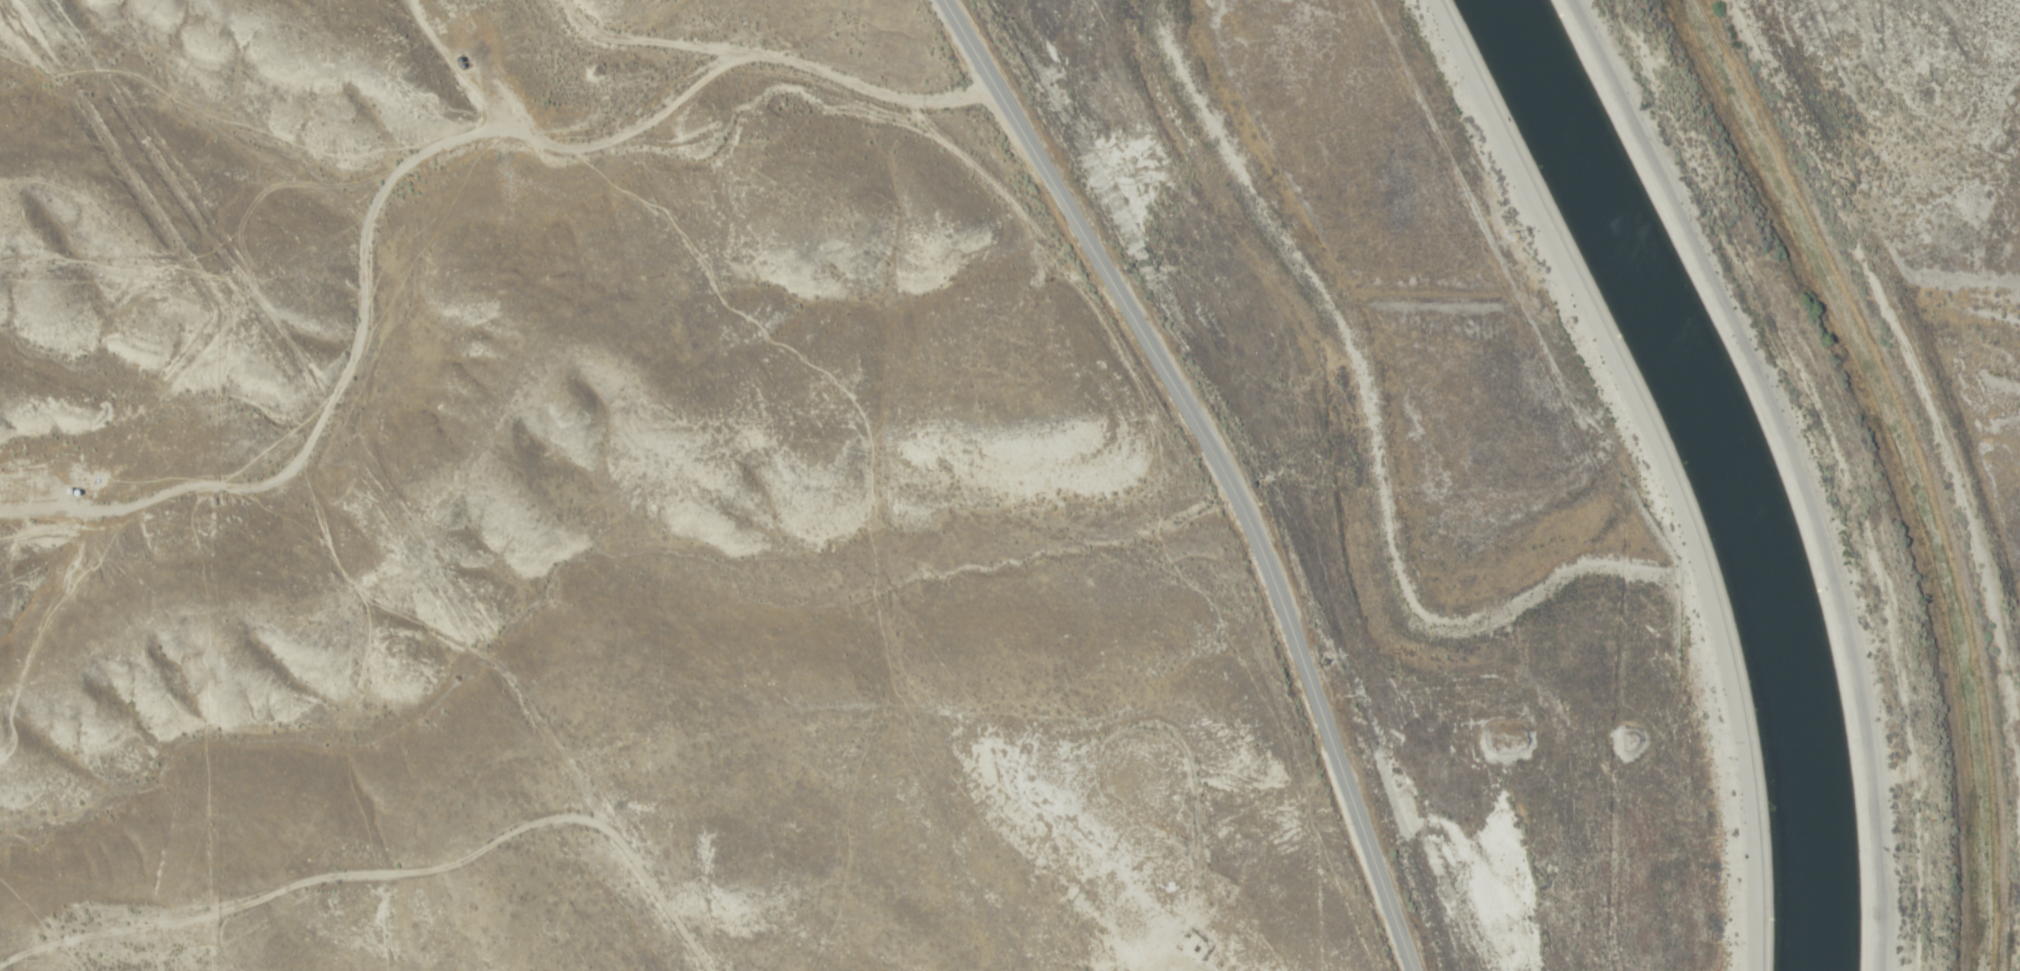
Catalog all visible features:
road: (2017, 3)
road: (753, 4)
road: (493, 159)
road: (1662, 464)
road: (1796, 464)
road: (1219, 466)
crop: (694, 497)

